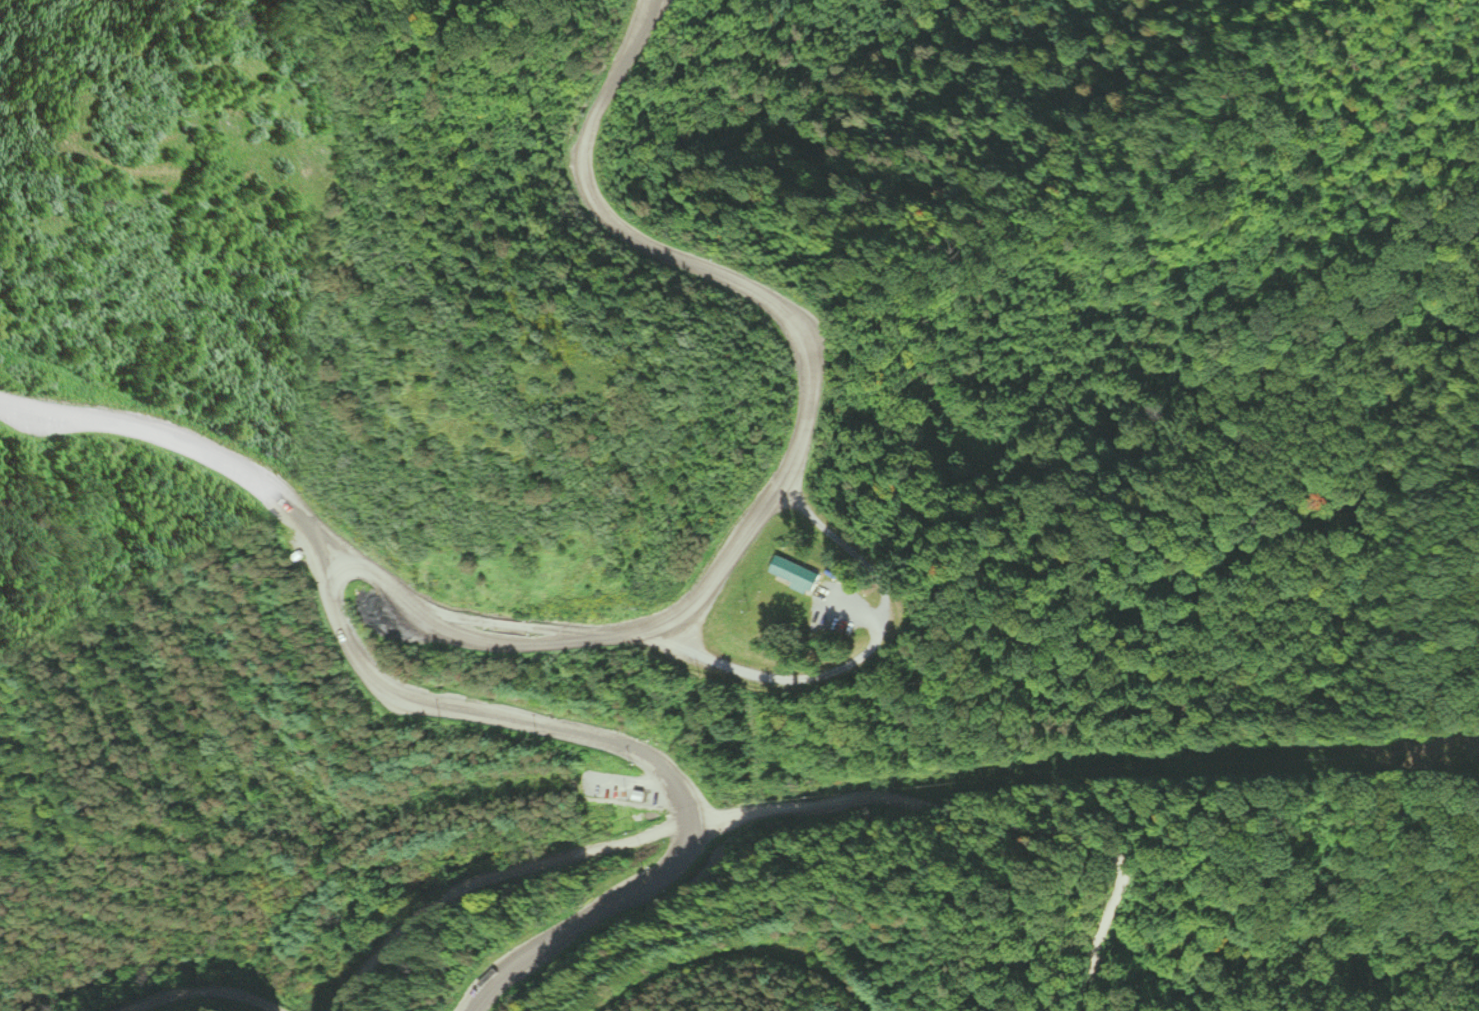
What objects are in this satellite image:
building: (801, 575)
road: (585, 846)
road: (1092, 849)
road: (590, 917)
road: (175, 1007)

